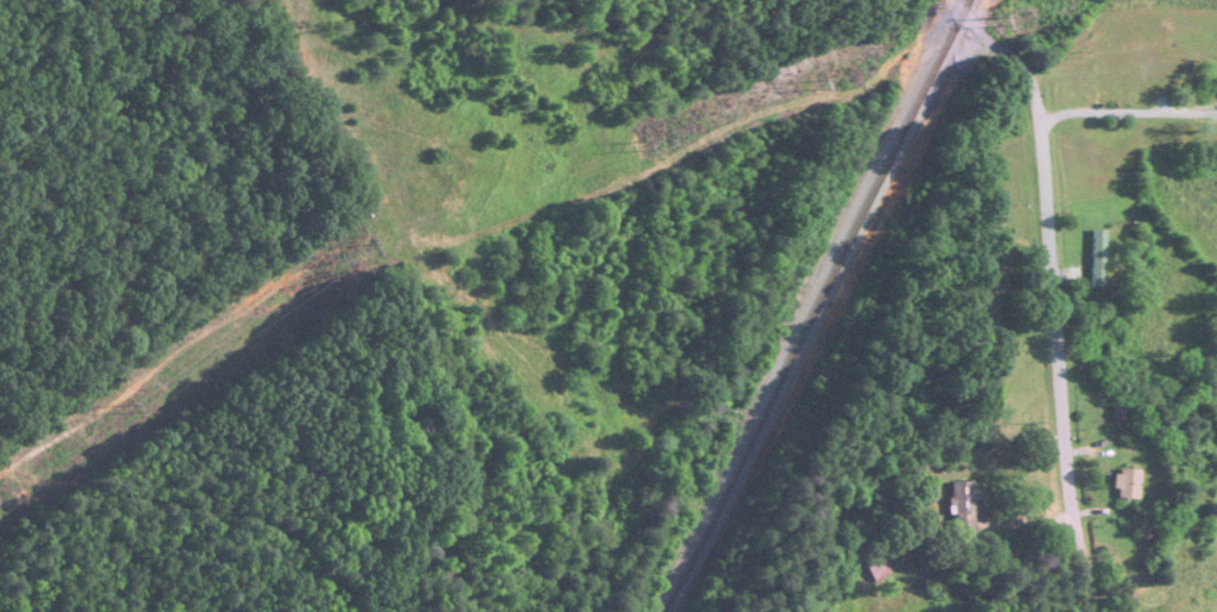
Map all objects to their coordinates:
railway: (956, 14)
road: (947, 29)
railway: (811, 322)
road: (1049, 356)
building: (1206, 387)
building: (1125, 485)
building: (962, 507)
road: (435, 534)
building: (872, 564)

